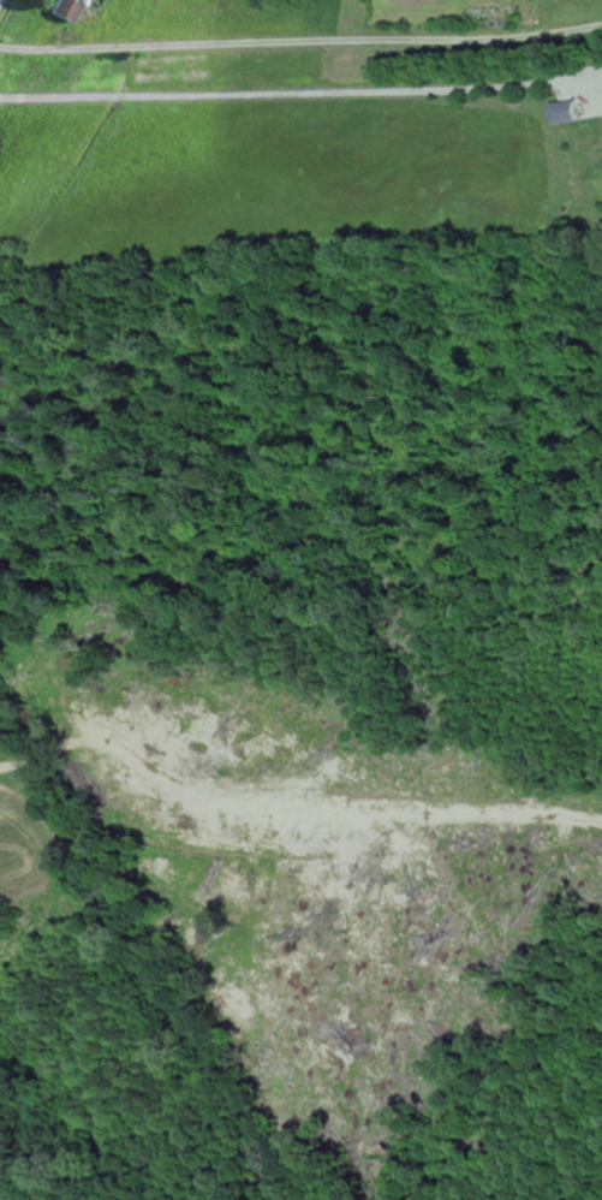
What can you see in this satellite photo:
road: (0, 0)
building: (76, 0)
building: (67, 11)
building: (565, 113)

